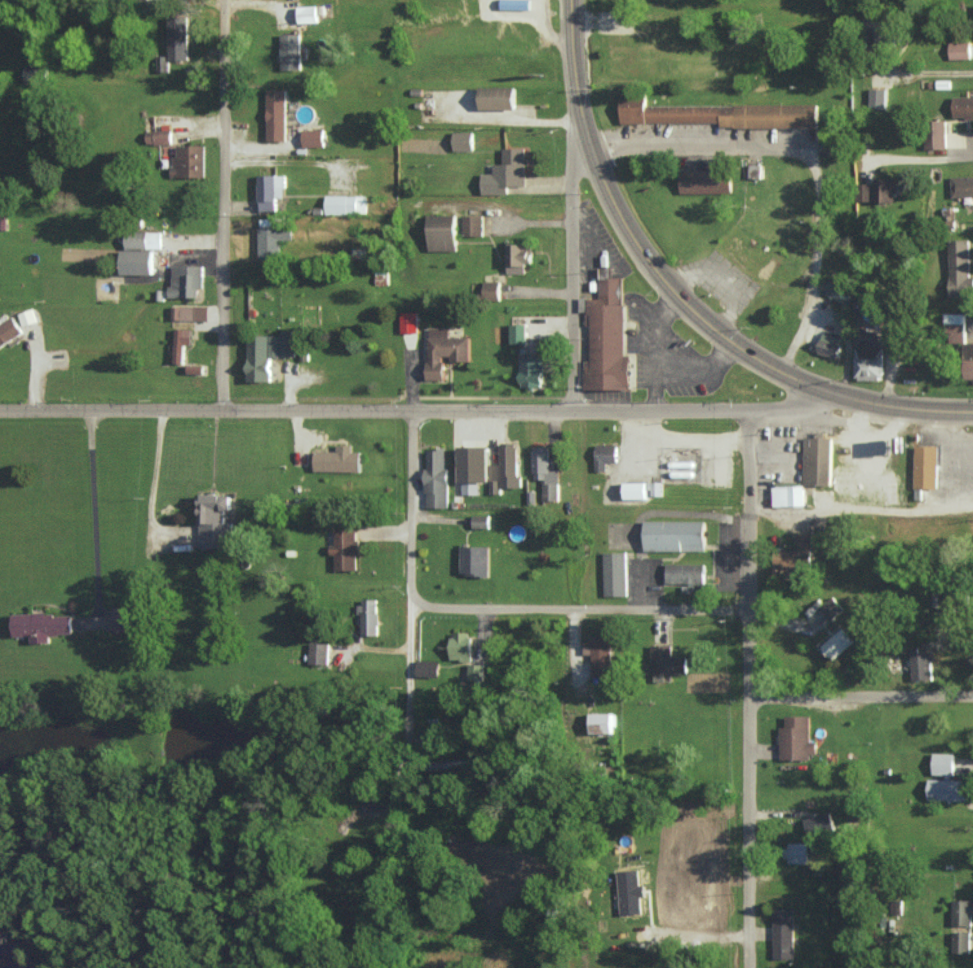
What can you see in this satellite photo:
building: (306, 14)
building: (868, 21)
building: (888, 34)
building: (177, 38)
building: (959, 50)
building: (290, 51)
building: (162, 63)
road: (574, 64)
building: (32, 74)
building: (496, 98)
building: (962, 106)
building: (718, 114)
building: (275, 115)
building: (935, 134)
building: (157, 136)
building: (312, 137)
building: (462, 140)
road: (926, 157)
road: (809, 158)
building: (188, 160)
building: (505, 171)
building: (705, 181)
building: (961, 185)
building: (877, 189)
building: (269, 190)
building: (345, 204)
road: (223, 205)
road: (508, 216)
building: (472, 224)
building: (441, 232)
building: (271, 236)
building: (142, 239)
building: (517, 257)
building: (135, 260)
road: (577, 266)
building: (959, 267)
road: (657, 268)
building: (381, 276)
building: (185, 279)
building: (490, 290)
building: (838, 292)
building: (189, 312)
building: (27, 316)
building: (408, 321)
building: (954, 327)
building: (7, 328)
building: (517, 332)
building: (608, 337)
building: (180, 342)
building: (828, 344)
building: (444, 349)
building: (266, 352)
building: (867, 355)
building: (968, 359)
building: (530, 370)
road: (874, 402)
road: (423, 410)
building: (604, 455)
building: (337, 459)
building: (818, 461)
building: (927, 467)
building: (486, 468)
building: (544, 472)
building: (435, 477)
building: (634, 489)
building: (787, 494)
road: (411, 509)
road: (89, 516)
building: (212, 518)
building: (479, 520)
building: (674, 535)
building: (345, 549)
building: (795, 553)
building: (473, 559)
building: (614, 573)
building: (686, 574)
building: (831, 607)
road: (580, 608)
building: (368, 615)
building: (124, 618)
building: (40, 625)
building: (837, 643)
building: (459, 645)
building: (318, 653)
building: (599, 655)
building: (665, 662)
building: (921, 664)
building: (427, 668)
building: (475, 671)
road: (748, 688)
road: (861, 697)
road: (411, 710)
building: (600, 722)
building: (795, 738)
building: (942, 762)
building: (945, 789)
building: (818, 823)
road: (304, 833)
building: (798, 852)
building: (629, 892)
building: (962, 911)
building: (782, 933)
building: (960, 941)

